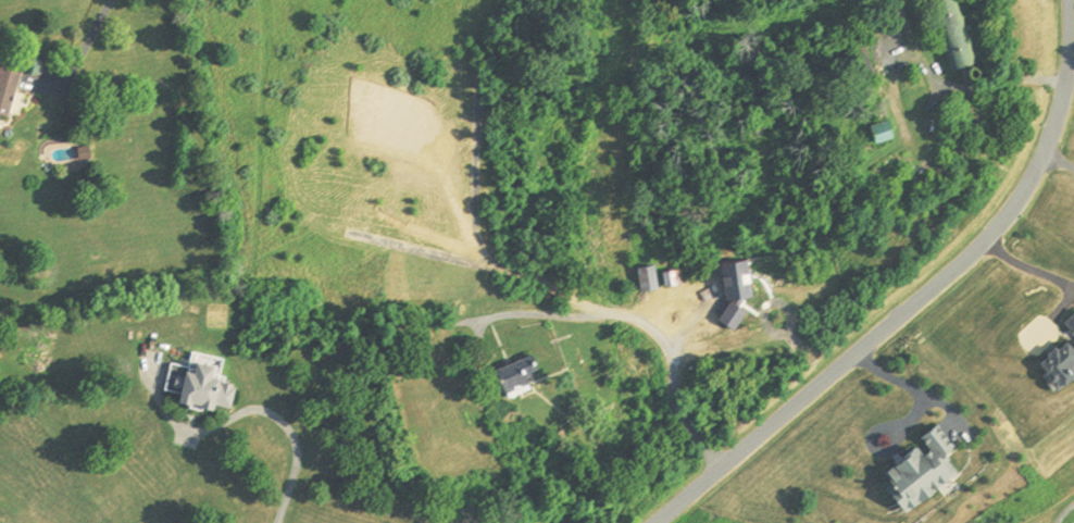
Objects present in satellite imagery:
building: (912, 1)
building: (949, 33)
road: (77, 57)
building: (5, 88)
building: (877, 130)
road: (1052, 165)
road: (1027, 264)
building: (644, 278)
building: (670, 278)
building: (733, 279)
road: (910, 298)
road: (636, 319)
building: (512, 372)
building: (196, 383)
road: (908, 384)
road: (276, 419)
building: (919, 470)
park: (1037, 490)
park: (705, 516)

